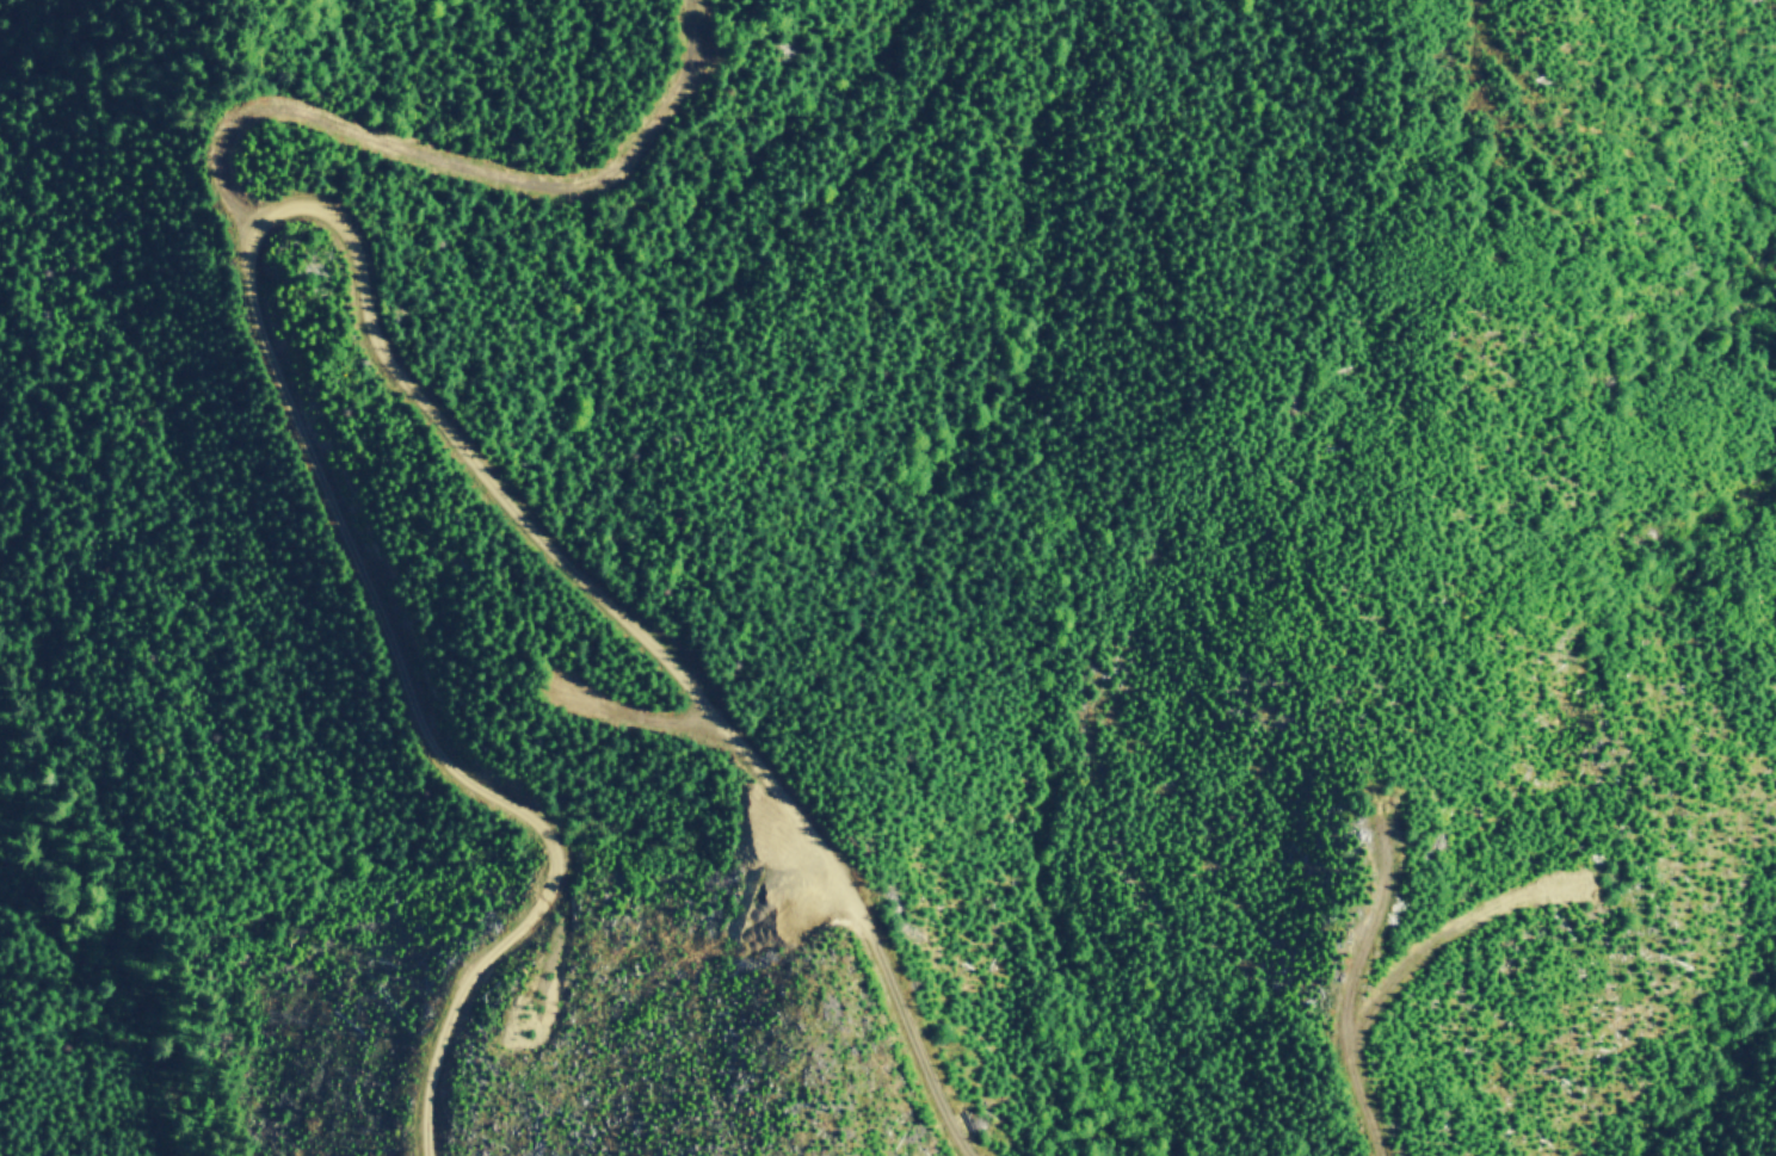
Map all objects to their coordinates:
road: (229, 319)

